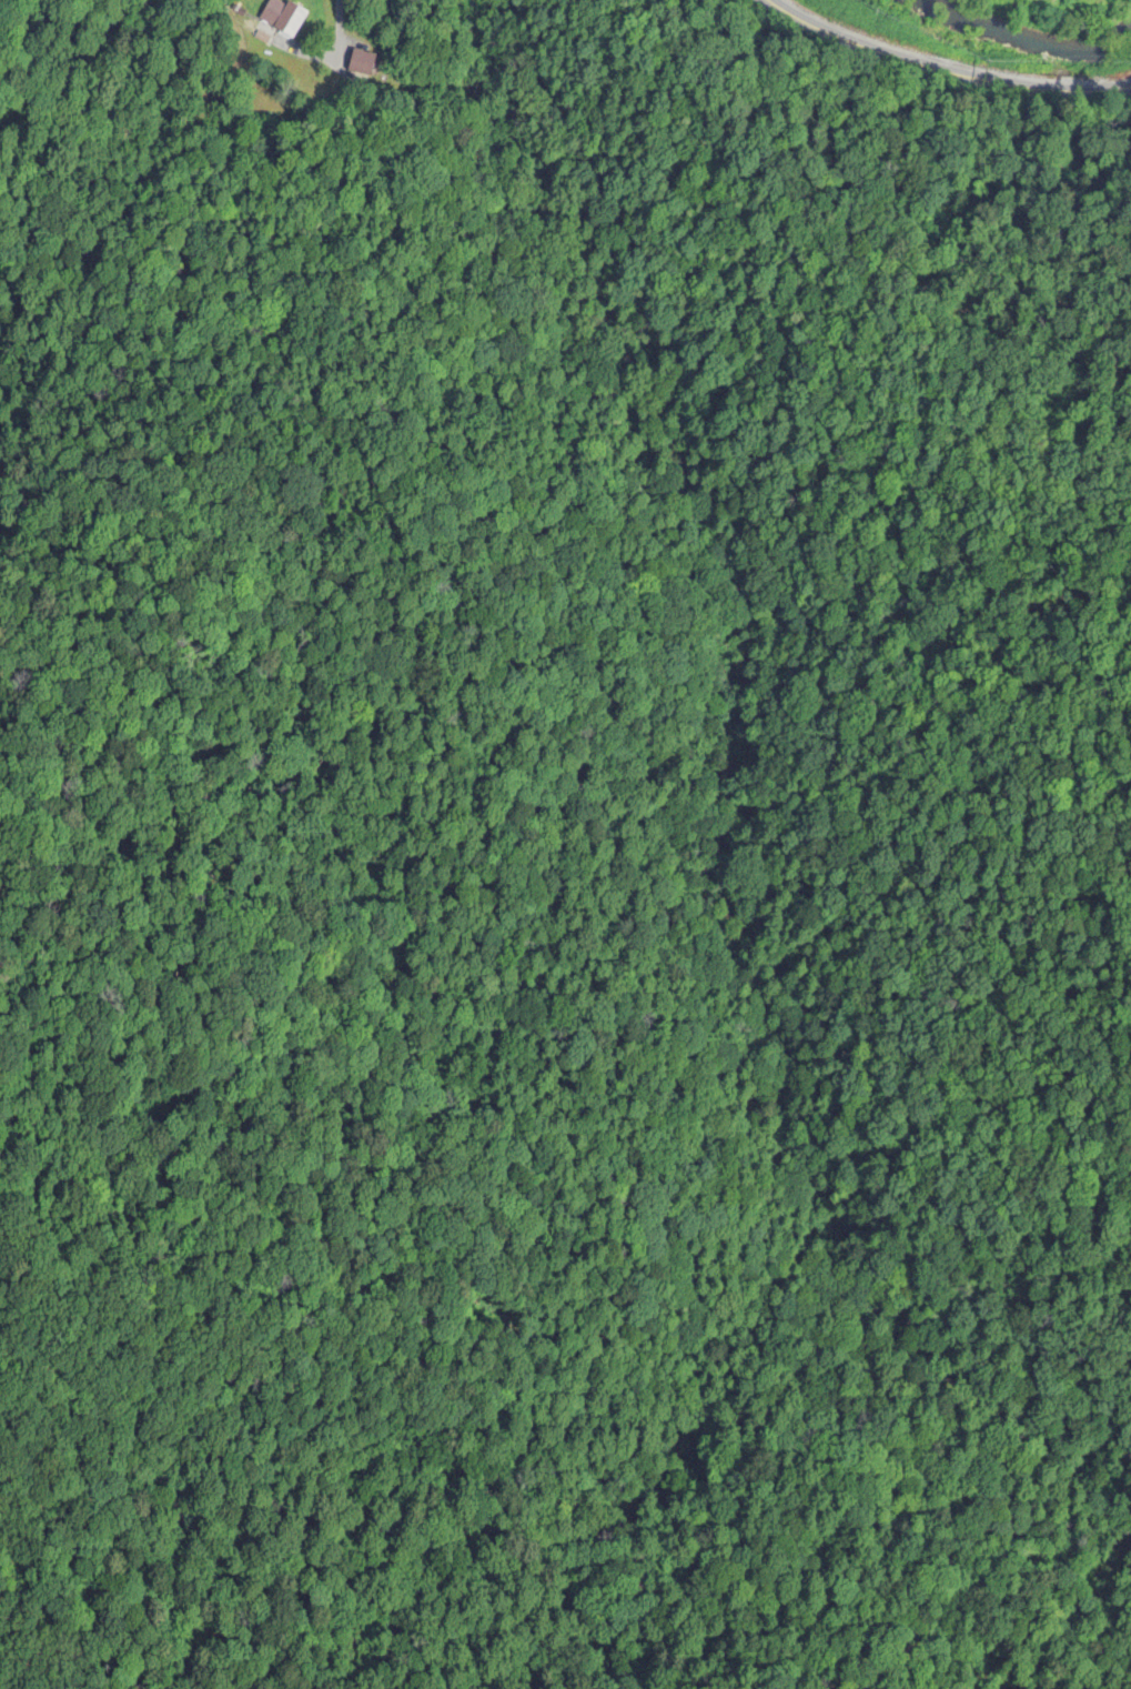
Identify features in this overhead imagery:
quarry: (1074, 1)
building: (282, 18)
road: (336, 32)
river: (977, 51)
building: (365, 64)
road: (937, 76)

